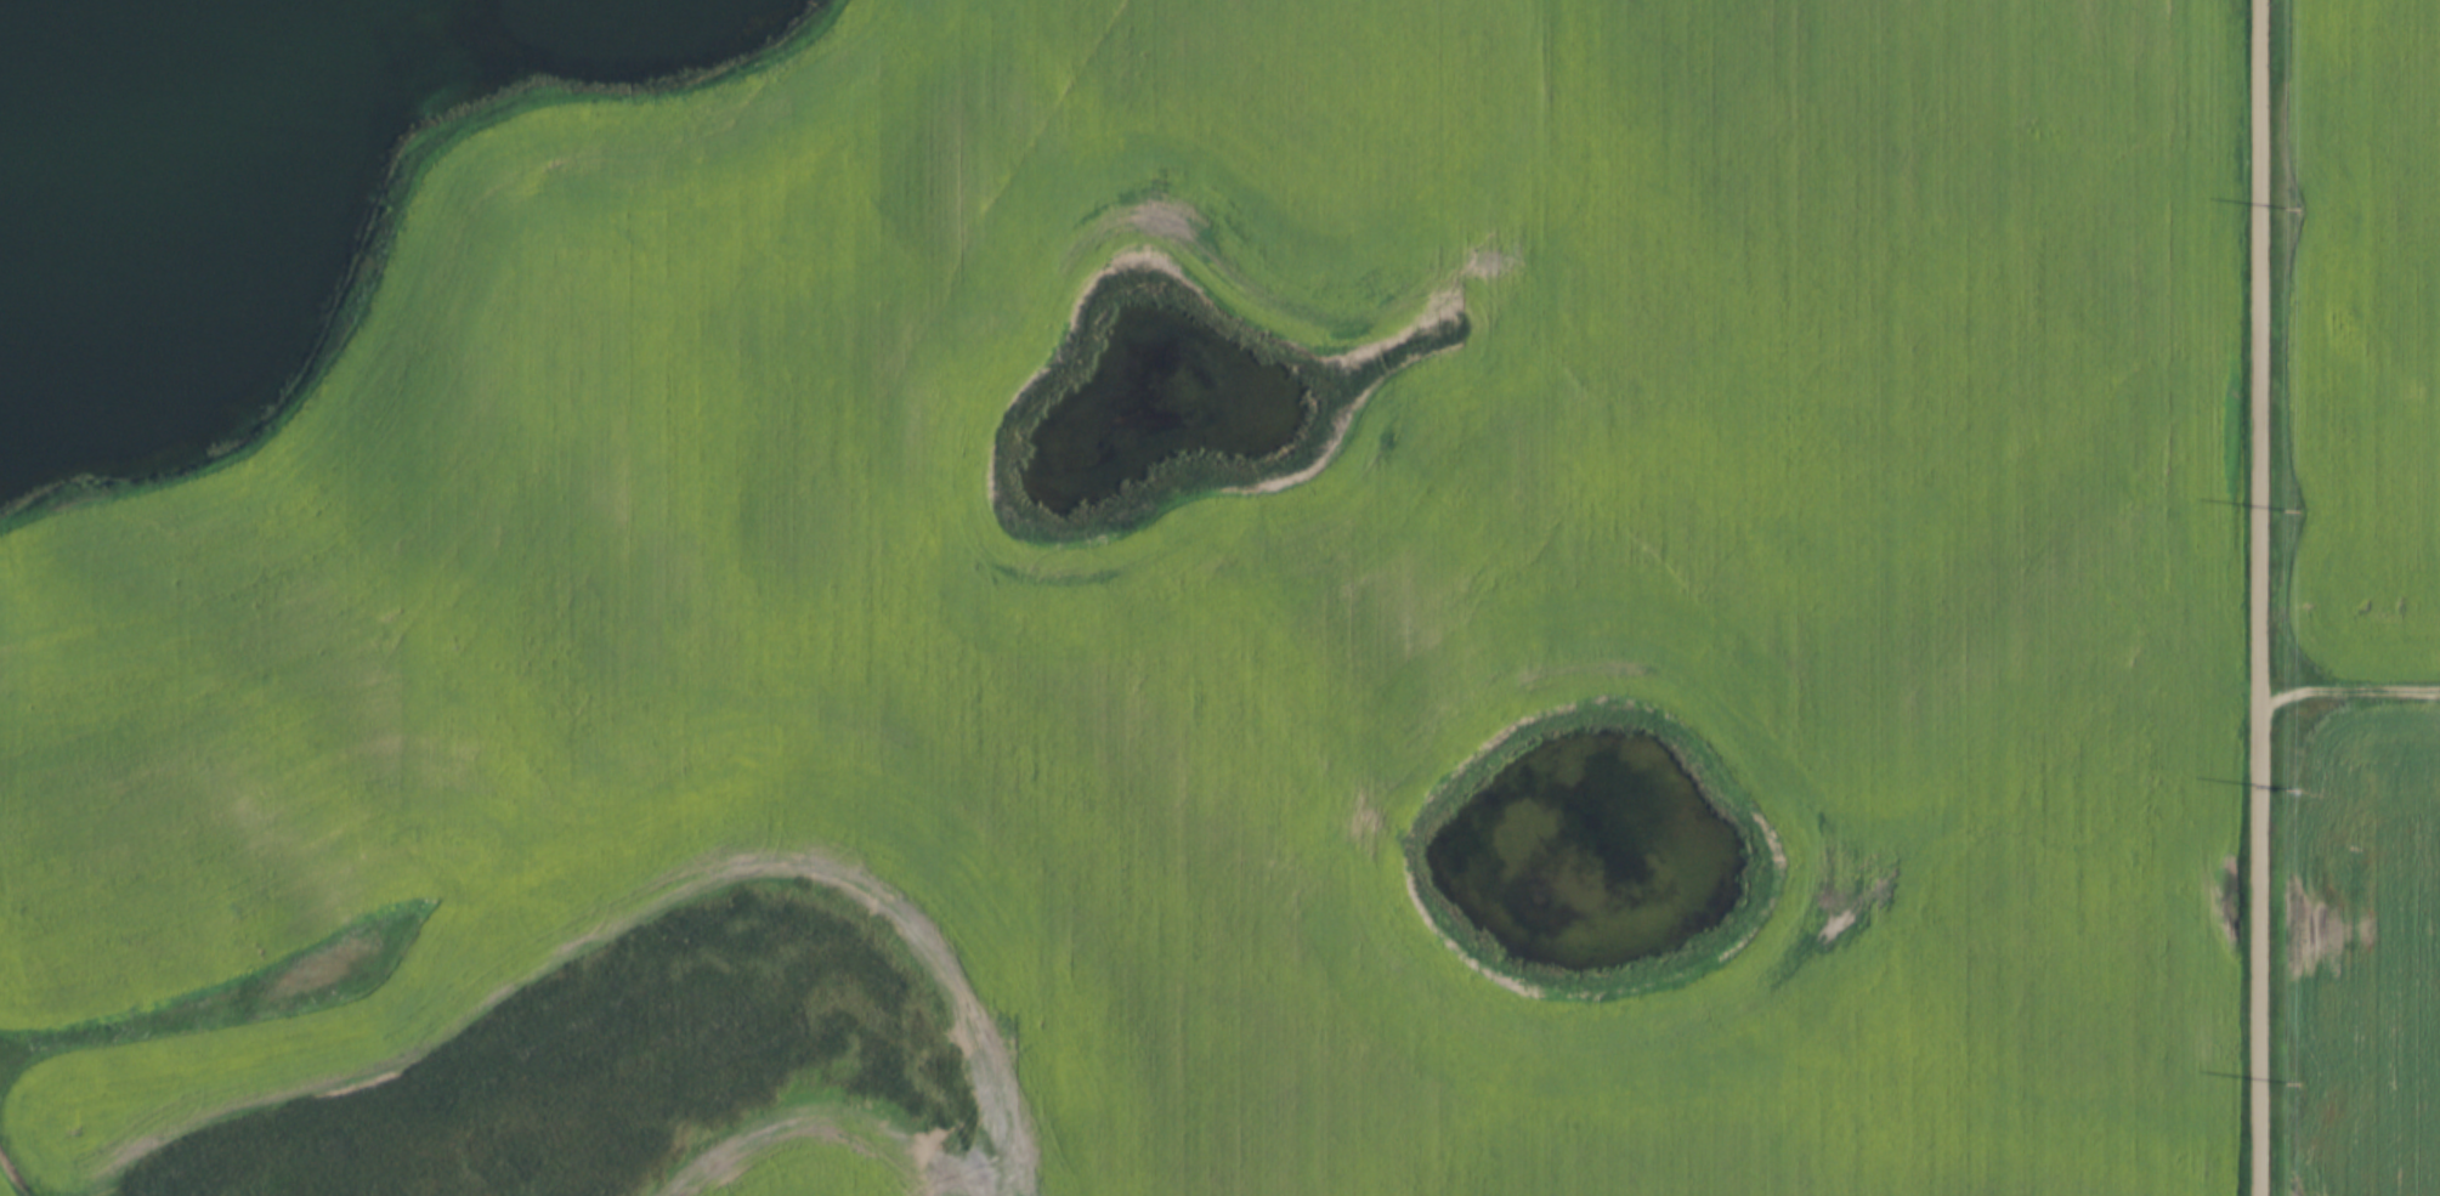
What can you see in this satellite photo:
road: (2261, 597)
road: (2350, 692)

